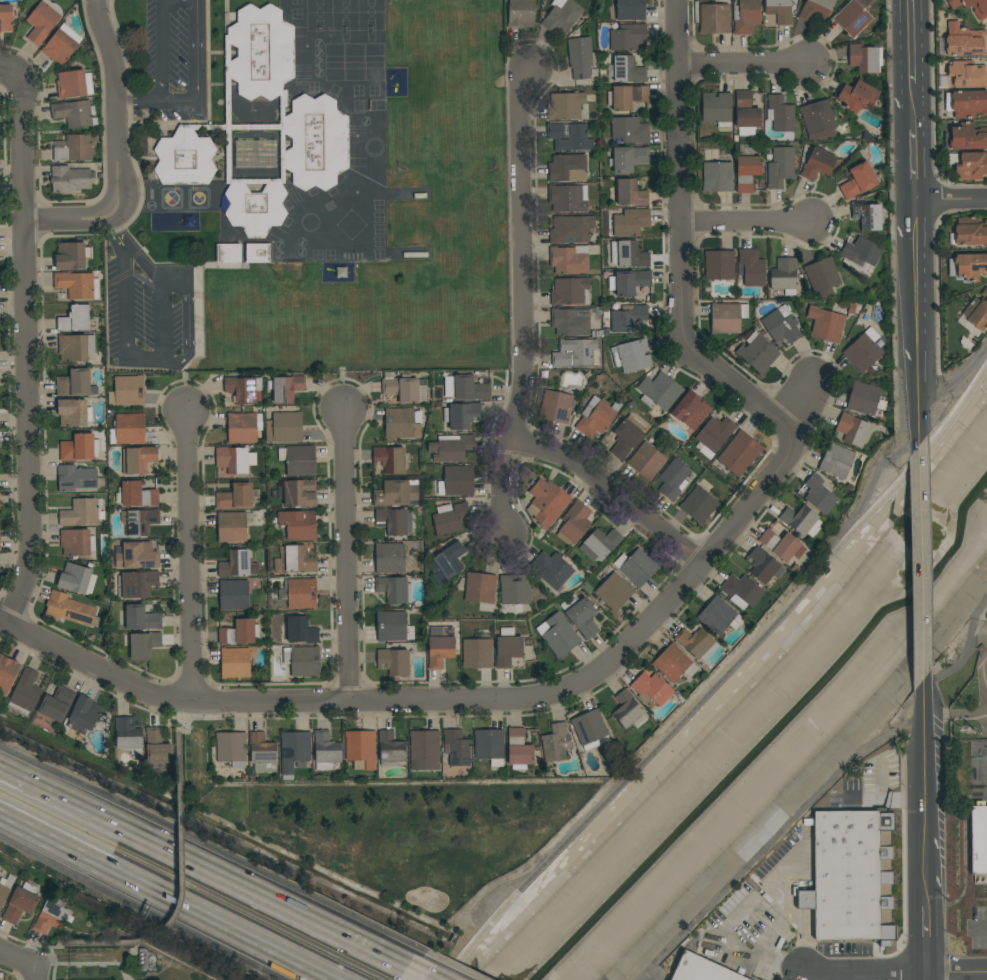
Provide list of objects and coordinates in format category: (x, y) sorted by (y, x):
building: (630, 9)
building: (815, 9)
building: (779, 10)
building: (980, 13)
building: (520, 14)
building: (561, 17)
building: (746, 17)
building: (6, 18)
building: (714, 18)
building: (852, 18)
building: (43, 20)
building: (628, 37)
road: (910, 41)
building: (963, 41)
building: (59, 47)
road: (161, 49)
building: (580, 57)
building: (865, 58)
road: (742, 66)
building: (625, 70)
road: (9, 71)
building: (963, 74)
building: (74, 84)
road: (196, 88)
road: (116, 91)
building: (858, 96)
building: (627, 97)
building: (966, 102)
building: (565, 106)
road: (912, 106)
building: (717, 109)
building: (73, 113)
building: (746, 114)
building: (780, 114)
building: (818, 118)
building: (262, 127)
building: (630, 129)
building: (569, 137)
building: (967, 137)
building: (75, 149)
building: (255, 153)
building: (628, 158)
building: (818, 164)
building: (969, 164)
building: (566, 167)
building: (780, 167)
road: (914, 167)
building: (746, 170)
building: (718, 177)
building: (70, 179)
building: (858, 181)
building: (629, 193)
building: (568, 198)
road: (951, 202)
building: (867, 215)
road: (84, 222)
building: (630, 222)
road: (745, 225)
building: (571, 229)
road: (115, 231)
building: (970, 231)
road: (681, 245)
building: (861, 252)
building: (228, 253)
building: (258, 253)
building: (403, 253)
building: (629, 254)
building: (72, 255)
building: (569, 260)
building: (719, 265)
building: (968, 266)
building: (752, 267)
building: (784, 276)
building: (822, 276)
building: (629, 282)
building: (77, 285)
building: (570, 291)
road: (522, 301)
building: (851, 309)
building: (977, 311)
building: (75, 318)
building: (628, 318)
building: (727, 318)
road: (187, 320)
building: (571, 321)
building: (781, 325)
building: (825, 325)
road: (916, 333)
building: (75, 347)
road: (26, 350)
building: (864, 351)
building: (576, 353)
building: (757, 353)
building: (631, 356)
road: (151, 357)
road: (955, 379)
building: (75, 384)
building: (286, 388)
building: (401, 388)
building: (465, 388)
building: (244, 389)
building: (127, 391)
building: (659, 391)
building: (863, 398)
building: (556, 407)
building: (691, 410)
building: (74, 413)
building: (461, 415)
building: (597, 418)
building: (399, 424)
building: (285, 427)
building: (241, 428)
building: (128, 429)
building: (852, 429)
building: (714, 435)
building: (627, 437)
building: (80, 448)
building: (451, 448)
building: (739, 454)
building: (140, 459)
building: (235, 459)
building: (391, 459)
building: (301, 461)
building: (646, 461)
building: (837, 461)
building: (77, 478)
building: (673, 479)
building: (456, 481)
building: (398, 491)
building: (300, 493)
building: (136, 495)
road: (612, 495)
building: (819, 495)
building: (235, 497)
building: (547, 503)
building: (698, 505)
road: (858, 506)
building: (81, 513)
building: (450, 518)
building: (139, 521)
building: (394, 521)
building: (575, 521)
building: (801, 521)
building: (298, 525)
building: (233, 526)
building: (77, 542)
building: (600, 544)
building: (781, 545)
road: (347, 554)
building: (135, 556)
road: (187, 556)
building: (389, 558)
building: (298, 559)
building: (446, 563)
building: (238, 564)
building: (763, 566)
building: (637, 567)
building: (552, 569)
road: (919, 572)
building: (77, 579)
building: (140, 583)
building: (480, 588)
building: (394, 589)
building: (614, 591)
building: (741, 591)
building: (515, 592)
building: (299, 593)
building: (234, 595)
building: (68, 609)
building: (580, 615)
building: (719, 616)
building: (140, 618)
building: (391, 626)
building: (298, 631)
building: (240, 632)
building: (560, 635)
building: (697, 643)
building: (144, 645)
building: (440, 646)
building: (507, 648)
building: (477, 652)
building: (303, 661)
building: (394, 661)
building: (235, 663)
building: (674, 663)
building: (7, 673)
road: (722, 677)
building: (651, 689)
building: (25, 694)
road: (478, 702)
building: (55, 706)
building: (627, 709)
building: (84, 715)
building: (589, 727)
building: (128, 735)
building: (556, 742)
building: (489, 744)
building: (457, 748)
building: (158, 749)
building: (232, 749)
building: (361, 749)
building: (391, 749)
building: (326, 750)
building: (424, 750)
building: (518, 750)
road: (180, 751)
building: (294, 751)
building: (262, 753)
road: (923, 794)
road: (820, 796)
park: (391, 825)
building: (978, 839)
road: (206, 866)
building: (850, 876)
road: (184, 881)
building: (5, 888)
road: (172, 895)
building: (20, 903)
road: (791, 907)
building: (51, 915)
road: (979, 929)
road: (925, 939)
road: (25, 942)
road: (99, 944)
road: (762, 954)
park: (115, 956)
road: (19, 960)
road: (43, 962)
road: (85, 964)
building: (700, 969)
road: (55, 972)
road: (897, 972)
road: (10, 973)
road: (425, 973)
road: (38, 975)
road: (925, 976)

